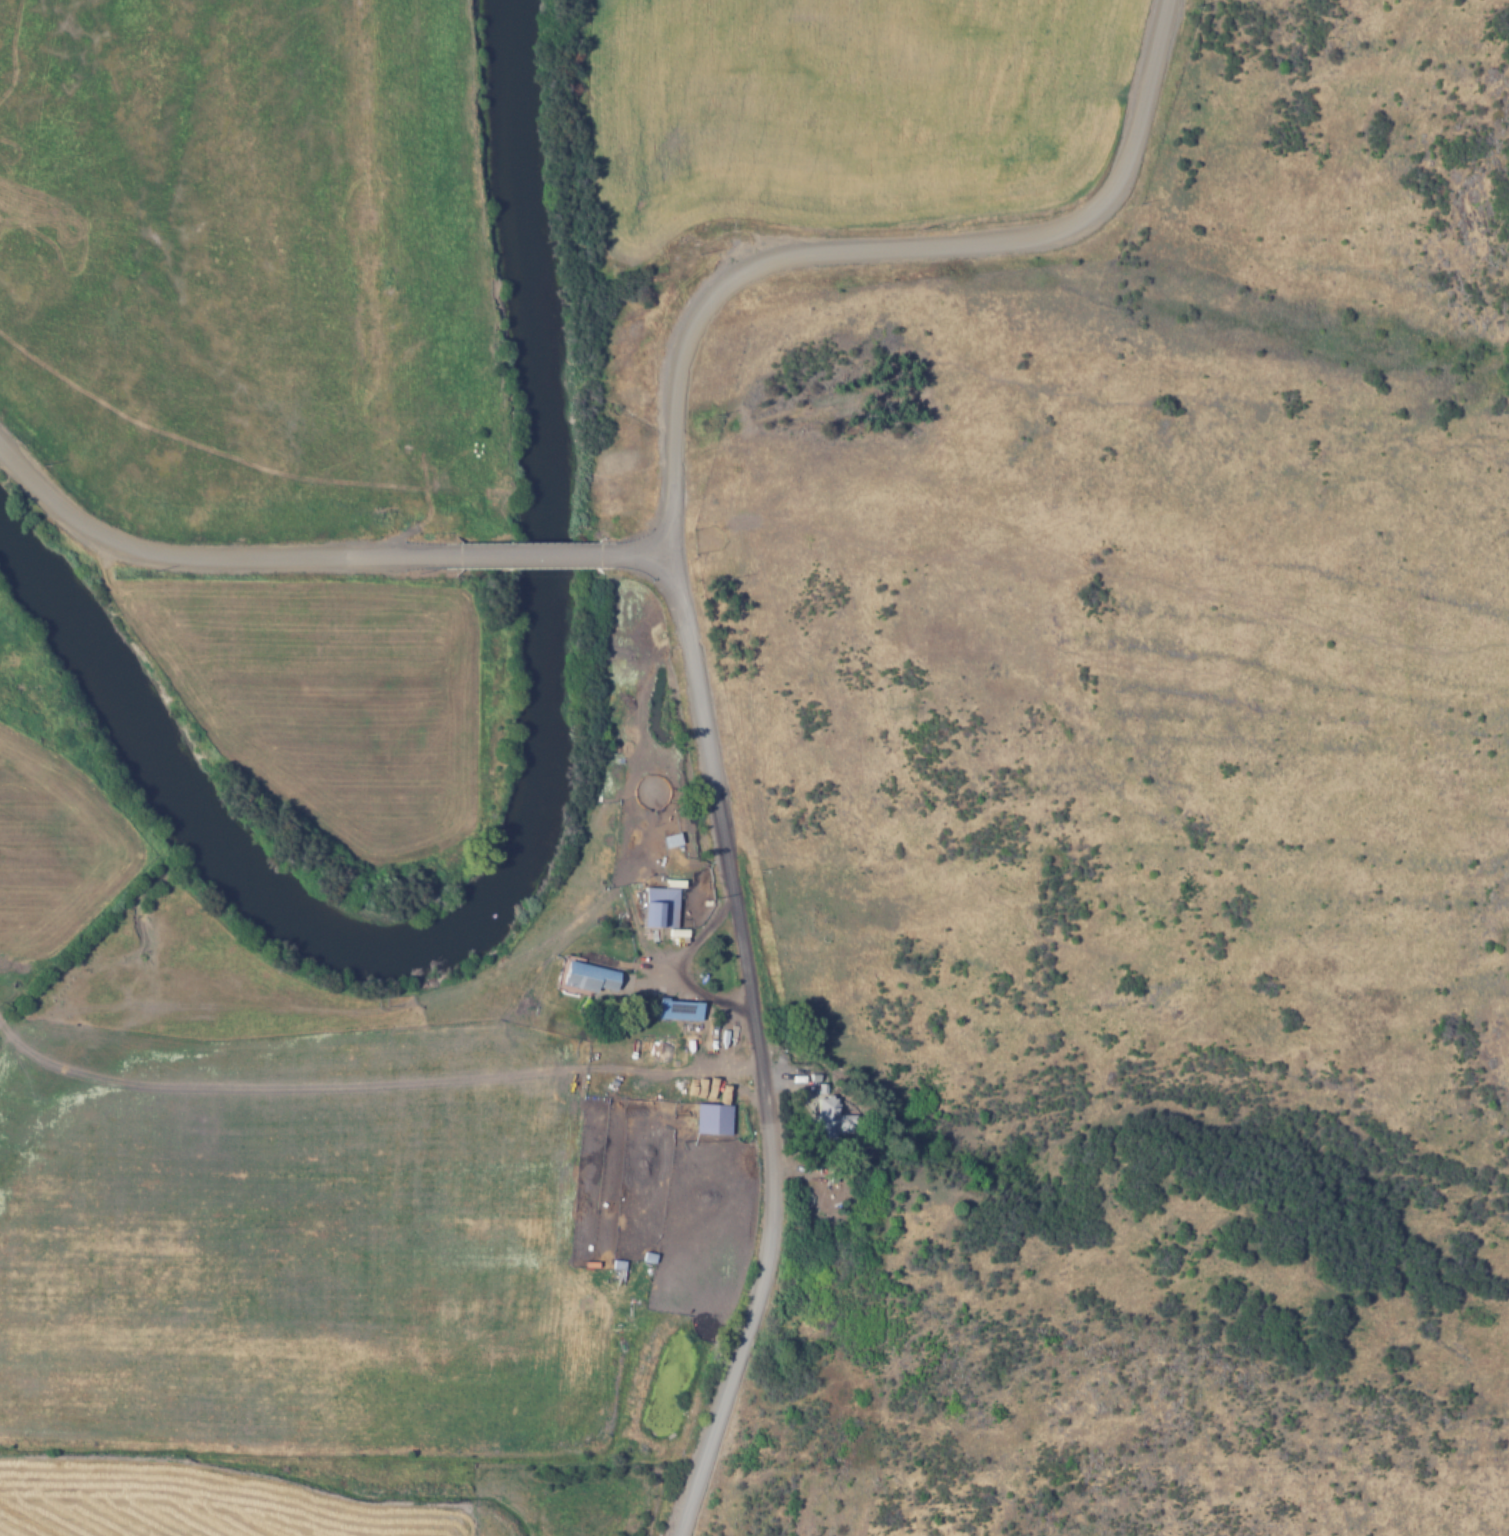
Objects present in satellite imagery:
road: (879, 245)
road: (642, 552)
road: (528, 553)
road: (201, 555)
river: (532, 808)
building: (660, 906)
building: (587, 975)
building: (678, 1009)
road: (753, 1046)
building: (713, 1117)
building: (833, 1118)
building: (618, 1269)

